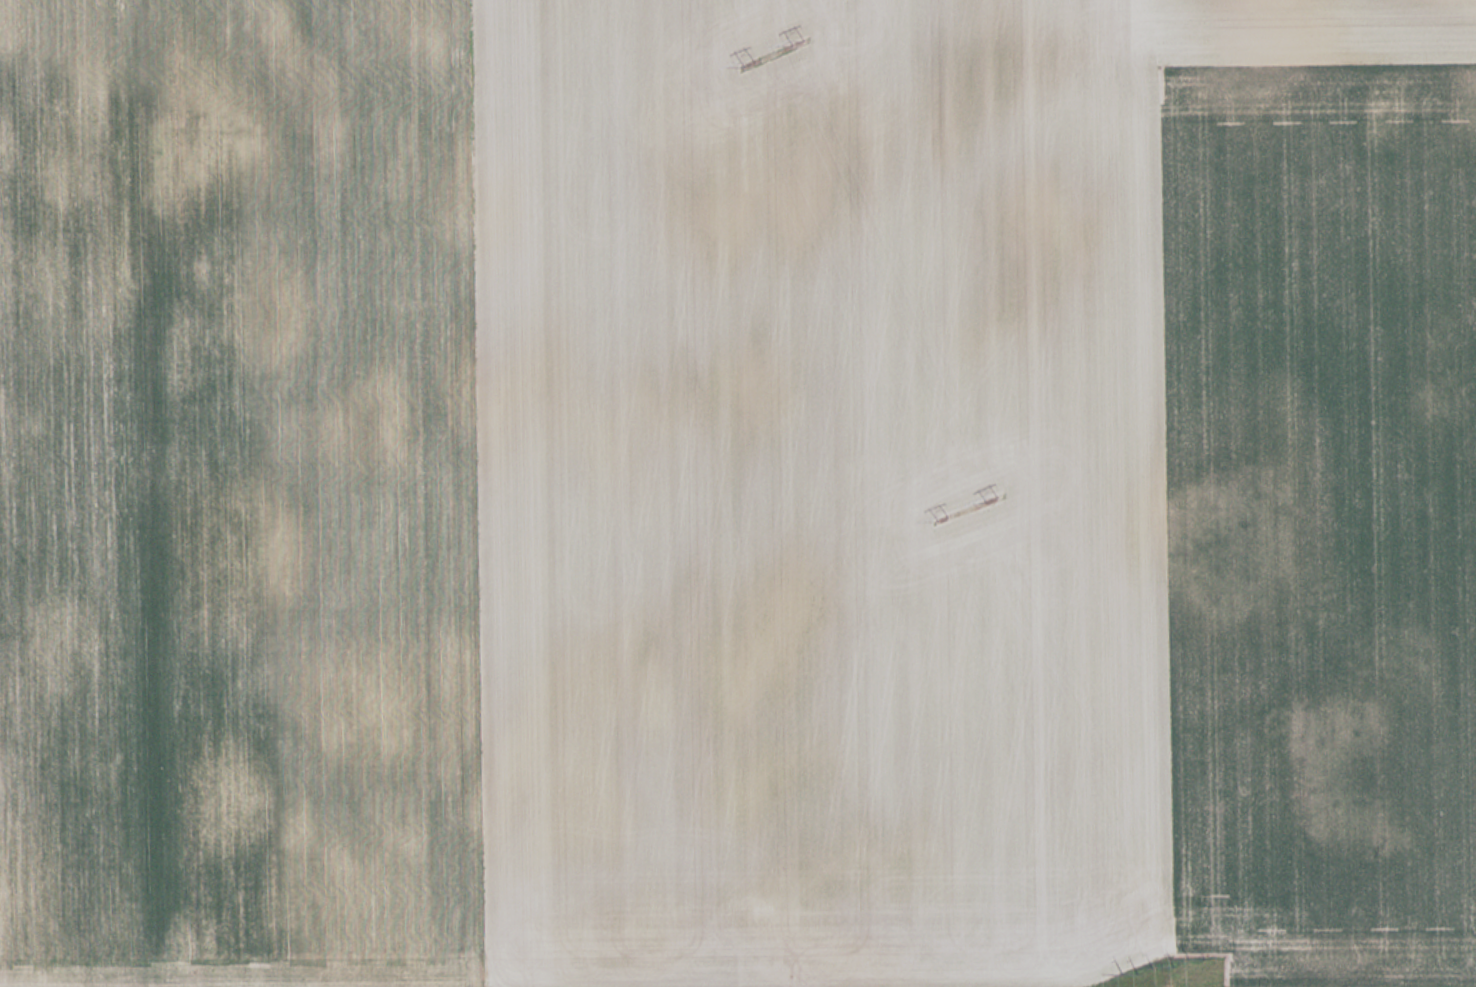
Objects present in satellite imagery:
power tower: (798, 41)
power tower: (750, 63)
power tower: (992, 497)
power tower: (941, 516)
power tower: (1190, 960)
power tower: (1136, 970)

